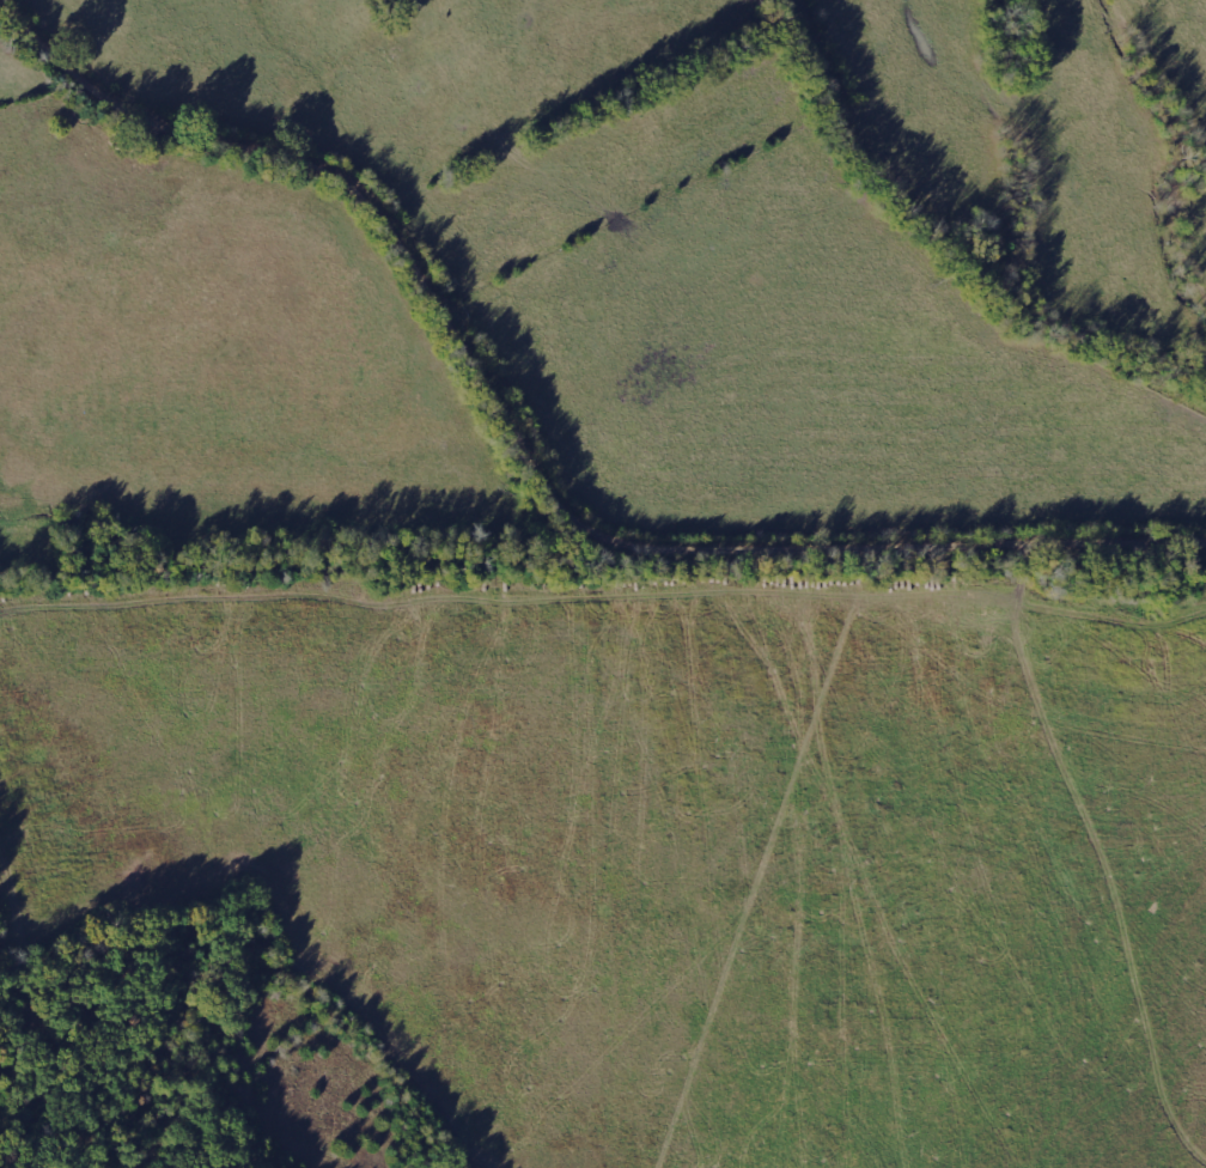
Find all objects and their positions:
road: (528, 448)

